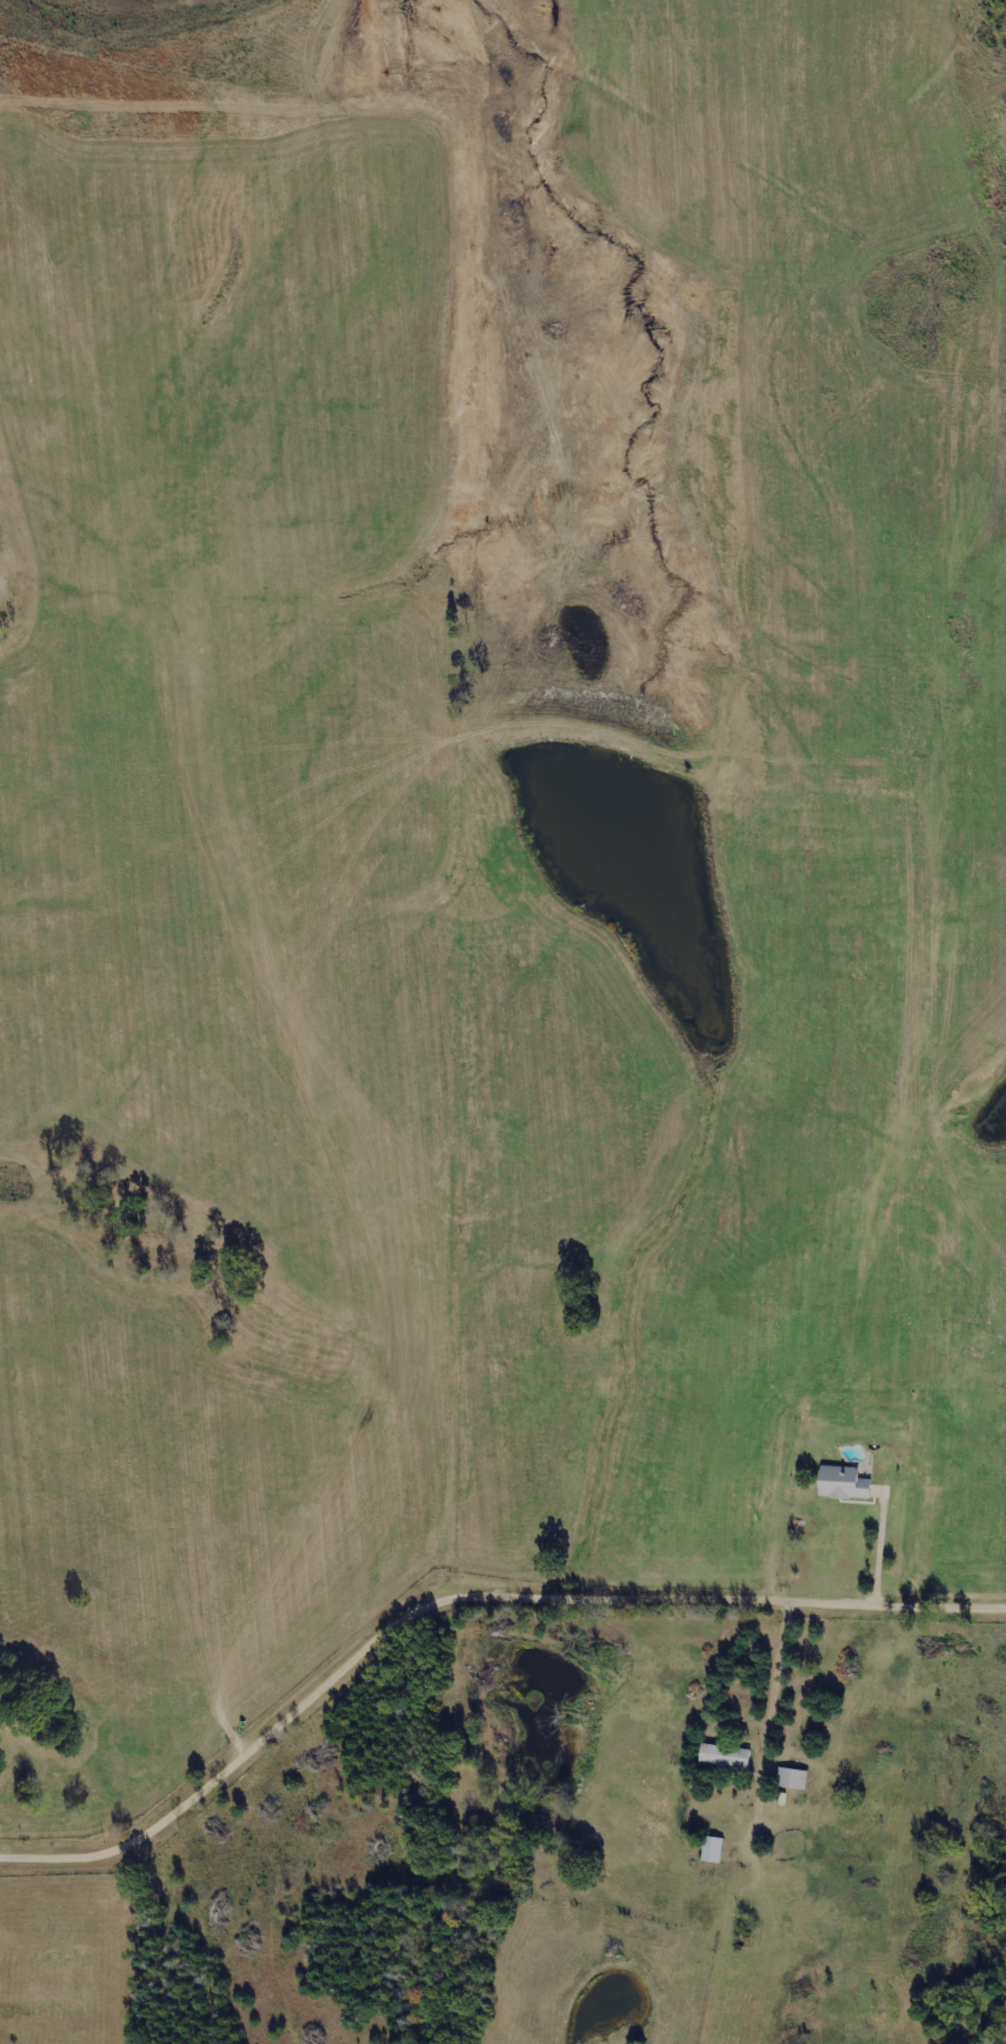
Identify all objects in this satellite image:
road: (452, 1576)
building: (727, 1755)
building: (794, 1777)
building: (714, 1849)

